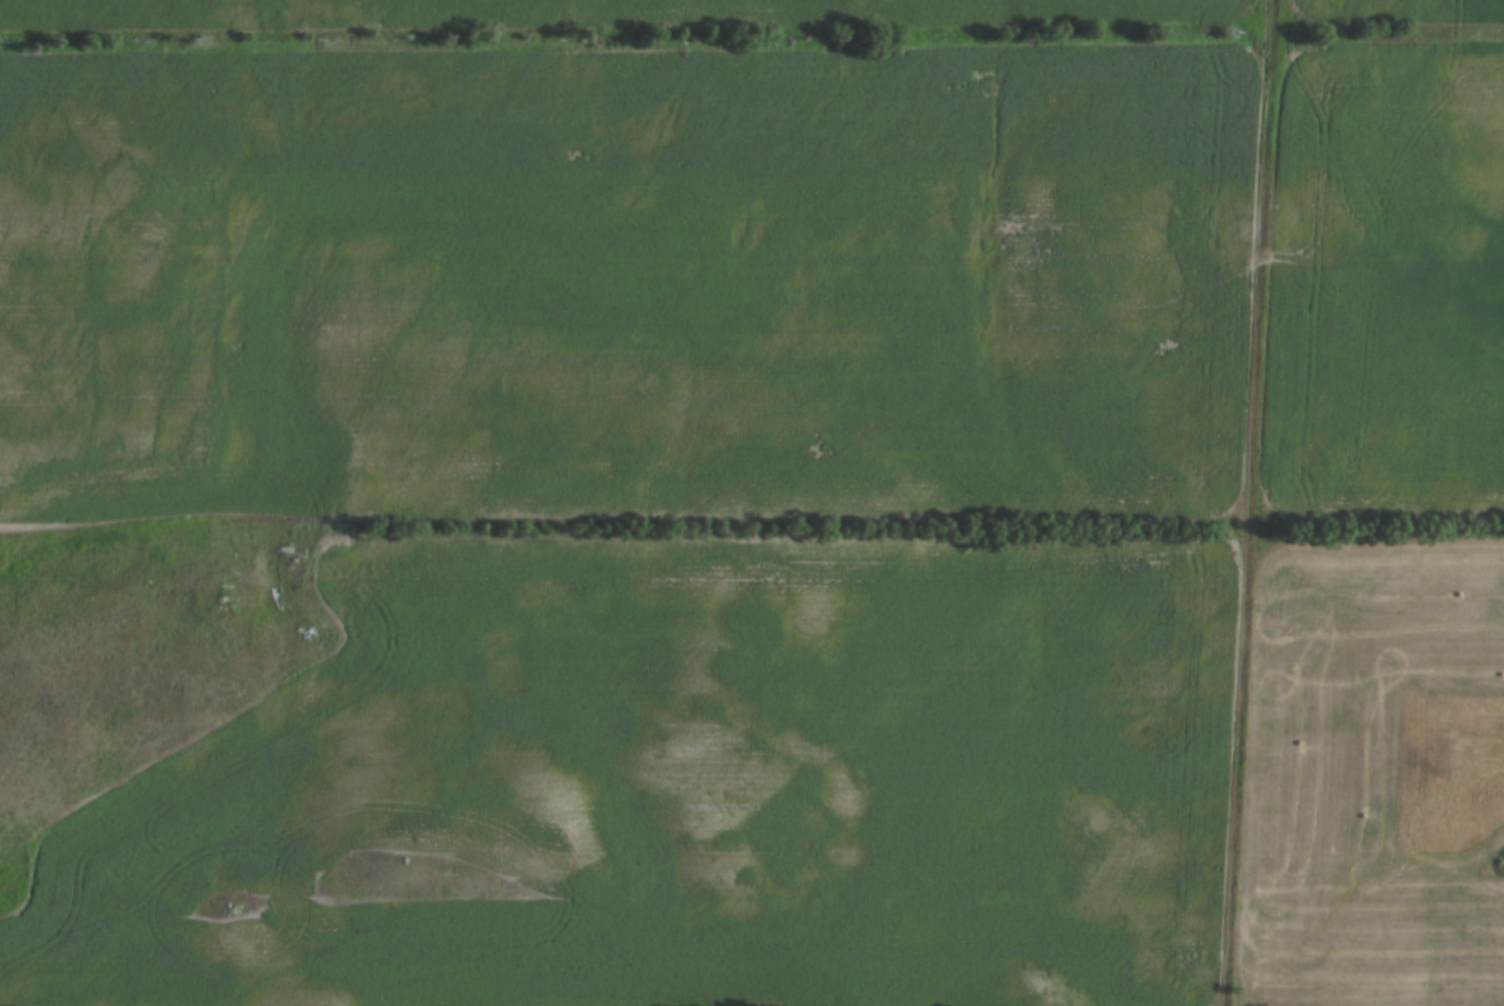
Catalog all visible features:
road: (1248, 502)

